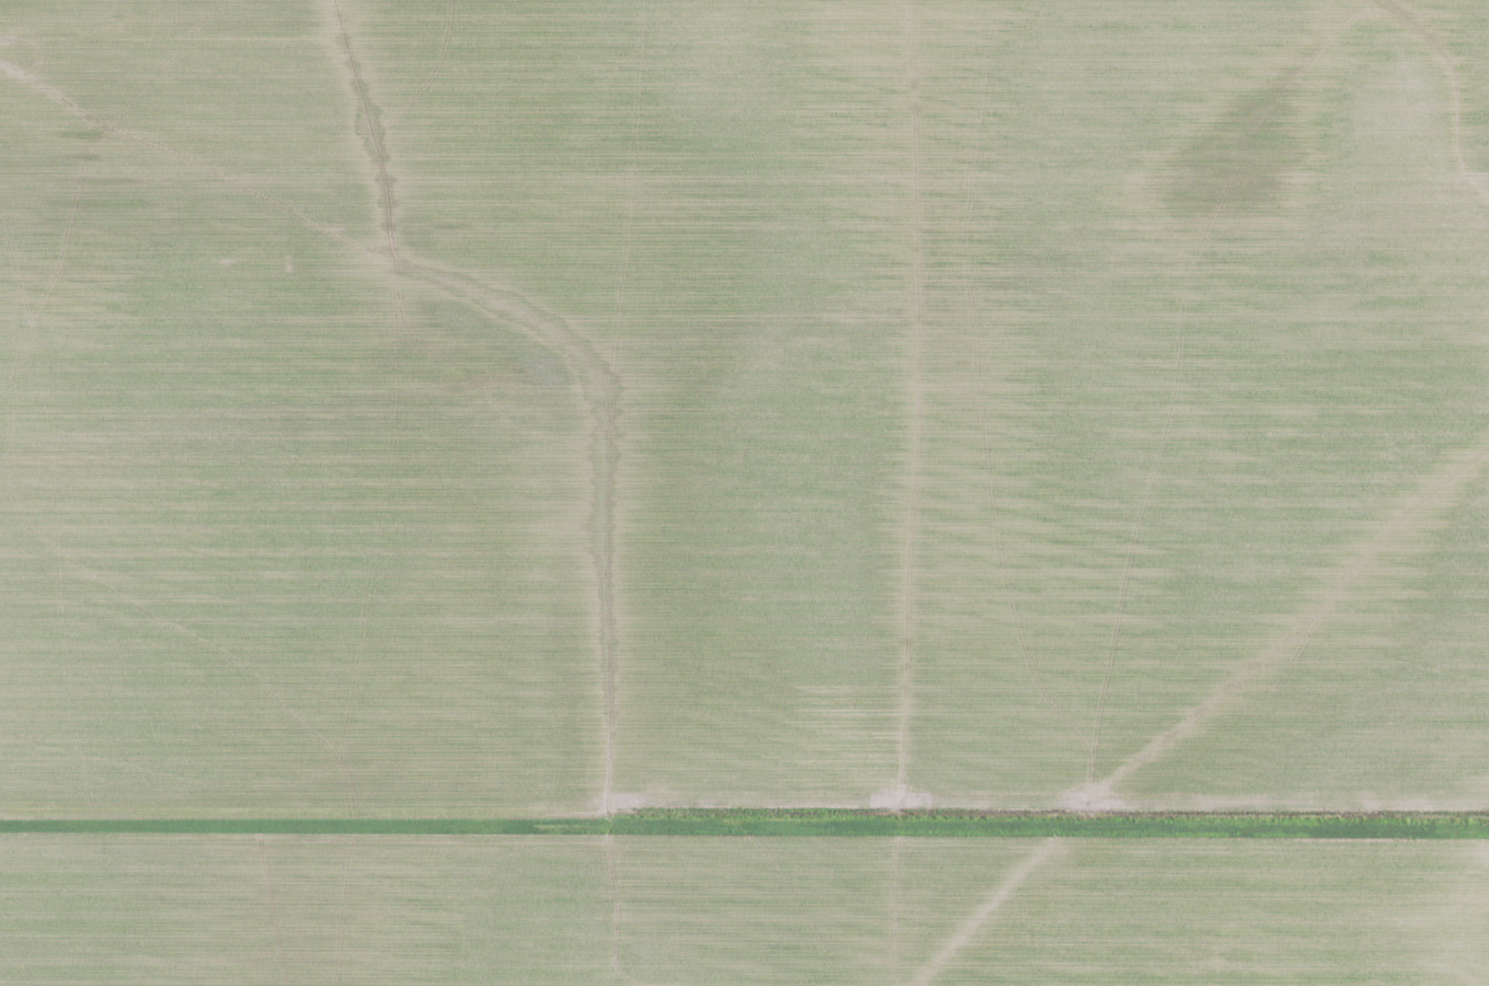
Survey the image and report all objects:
road: (744, 826)

